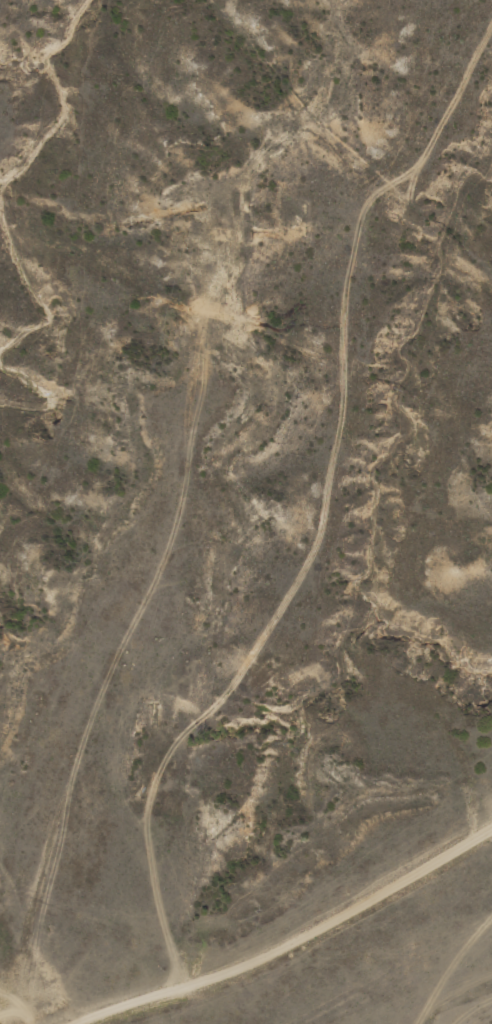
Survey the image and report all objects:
road: (263, 893)

